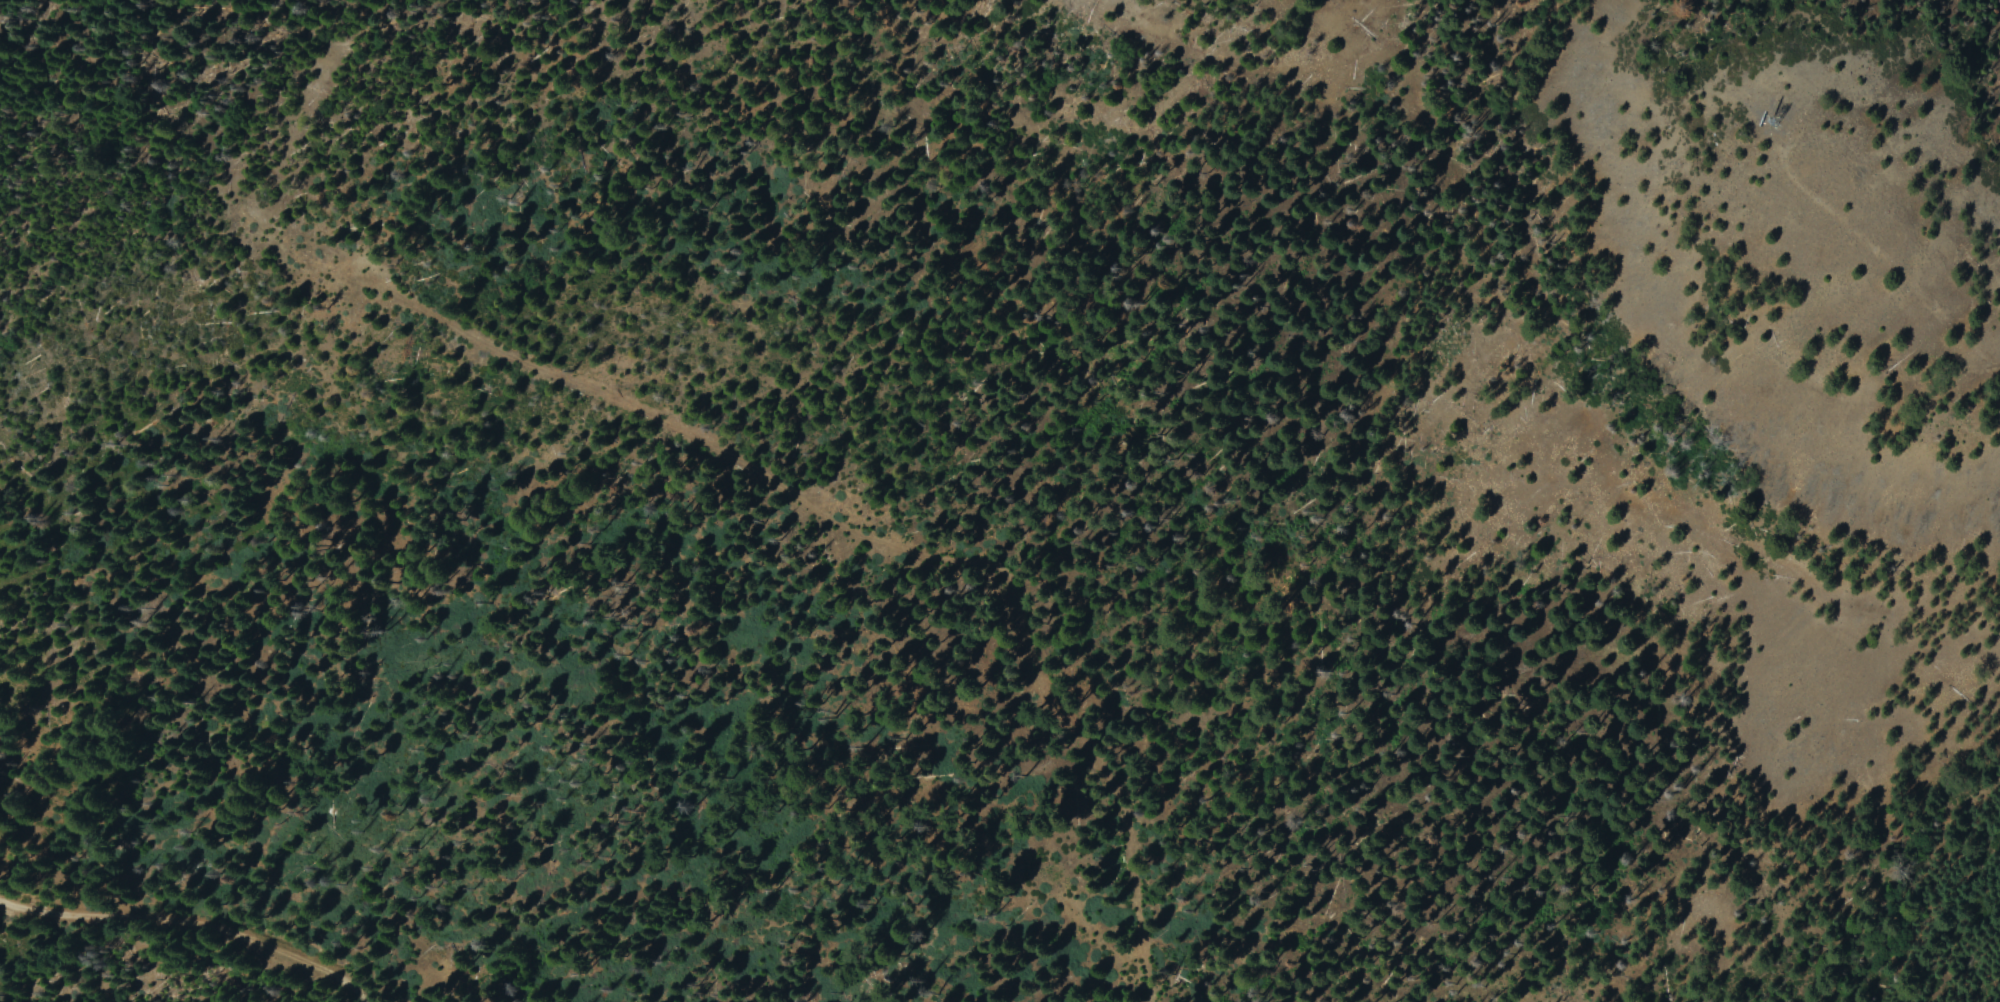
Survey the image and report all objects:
road: (25, 31)
road: (842, 517)
road: (193, 922)

